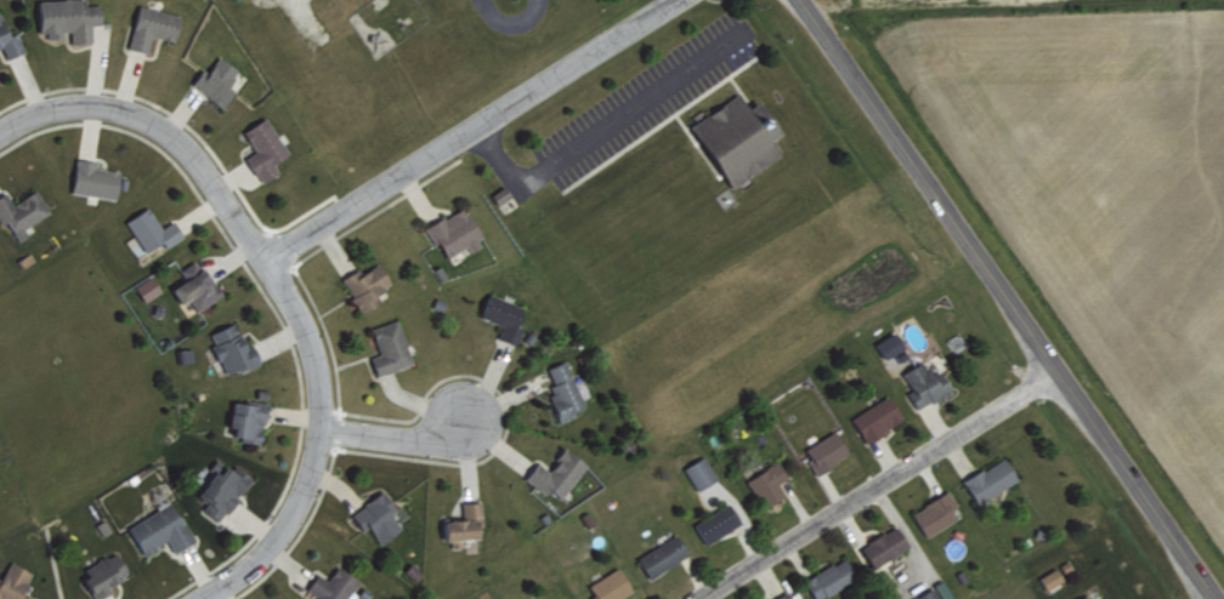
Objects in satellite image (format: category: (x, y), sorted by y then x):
road: (827, 5)
building: (66, 17)
road: (510, 21)
building: (149, 24)
building: (8, 41)
building: (214, 79)
road: (160, 118)
road: (461, 127)
building: (735, 138)
building: (261, 147)
building: (92, 177)
building: (19, 211)
building: (151, 228)
building: (453, 232)
building: (193, 284)
building: (364, 284)
building: (146, 286)
road: (1002, 297)
building: (501, 315)
road: (305, 335)
building: (886, 343)
building: (229, 346)
building: (387, 346)
building: (923, 383)
building: (561, 387)
building: (874, 416)
building: (245, 418)
road: (389, 433)
building: (823, 449)
building: (698, 470)
building: (555, 472)
building: (988, 478)
building: (766, 481)
road: (869, 481)
building: (221, 489)
building: (934, 512)
building: (375, 514)
building: (463, 521)
building: (715, 521)
building: (159, 527)
road: (278, 530)
building: (882, 544)
building: (661, 554)
building: (101, 572)
building: (828, 577)
building: (1049, 578)
building: (13, 582)
building: (330, 584)
building: (608, 584)
building: (925, 594)
building: (782, 595)
building: (1086, 595)

